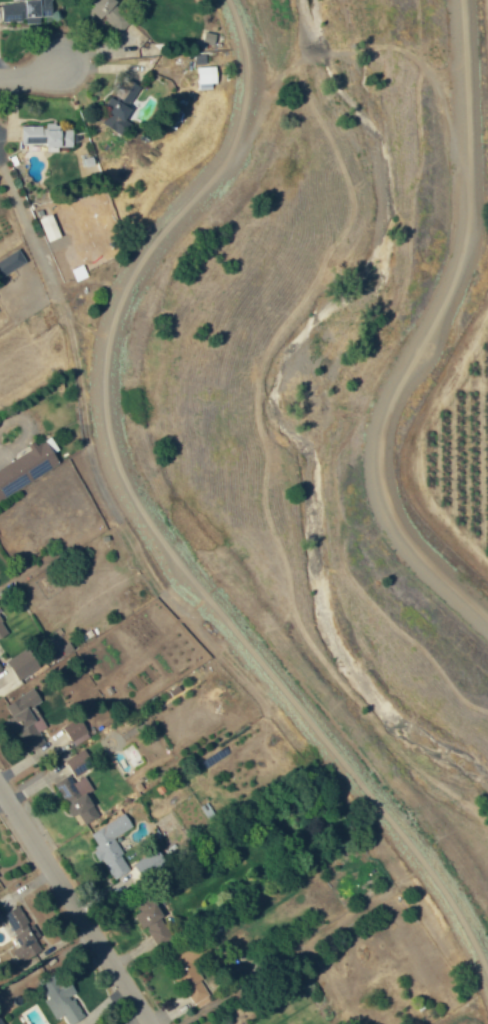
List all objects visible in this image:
building: (25, 10)
building: (112, 13)
building: (210, 37)
building: (201, 60)
road: (30, 77)
building: (207, 78)
building: (46, 135)
building: (50, 227)
road: (27, 230)
building: (11, 262)
road: (427, 331)
building: (27, 470)
road: (146, 515)
building: (2, 628)
building: (23, 663)
building: (2, 668)
building: (27, 719)
building: (77, 731)
building: (80, 762)
building: (77, 796)
building: (112, 846)
building: (150, 864)
building: (0, 877)
road: (75, 905)
building: (155, 924)
building: (23, 933)
building: (190, 973)
building: (61, 999)

